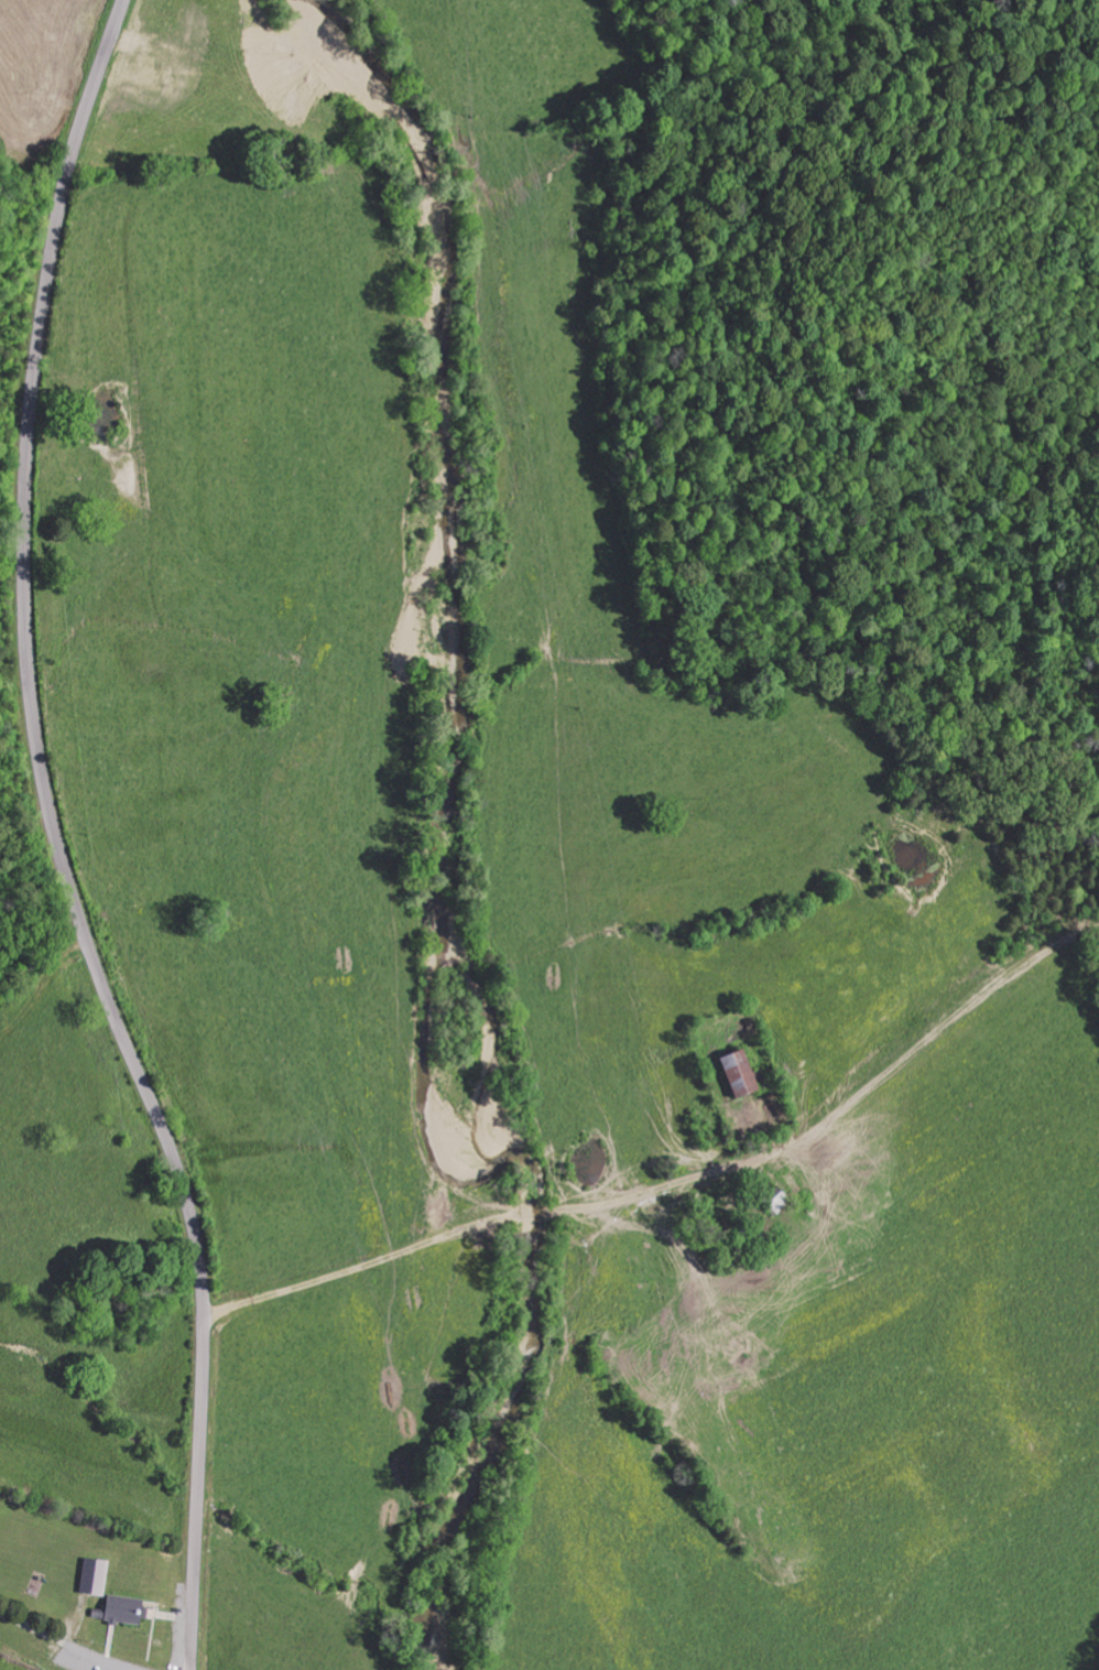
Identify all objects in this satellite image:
road: (54, 839)
building: (739, 1073)
road: (415, 1239)
building: (93, 1576)
building: (122, 1609)
road: (95, 1620)

